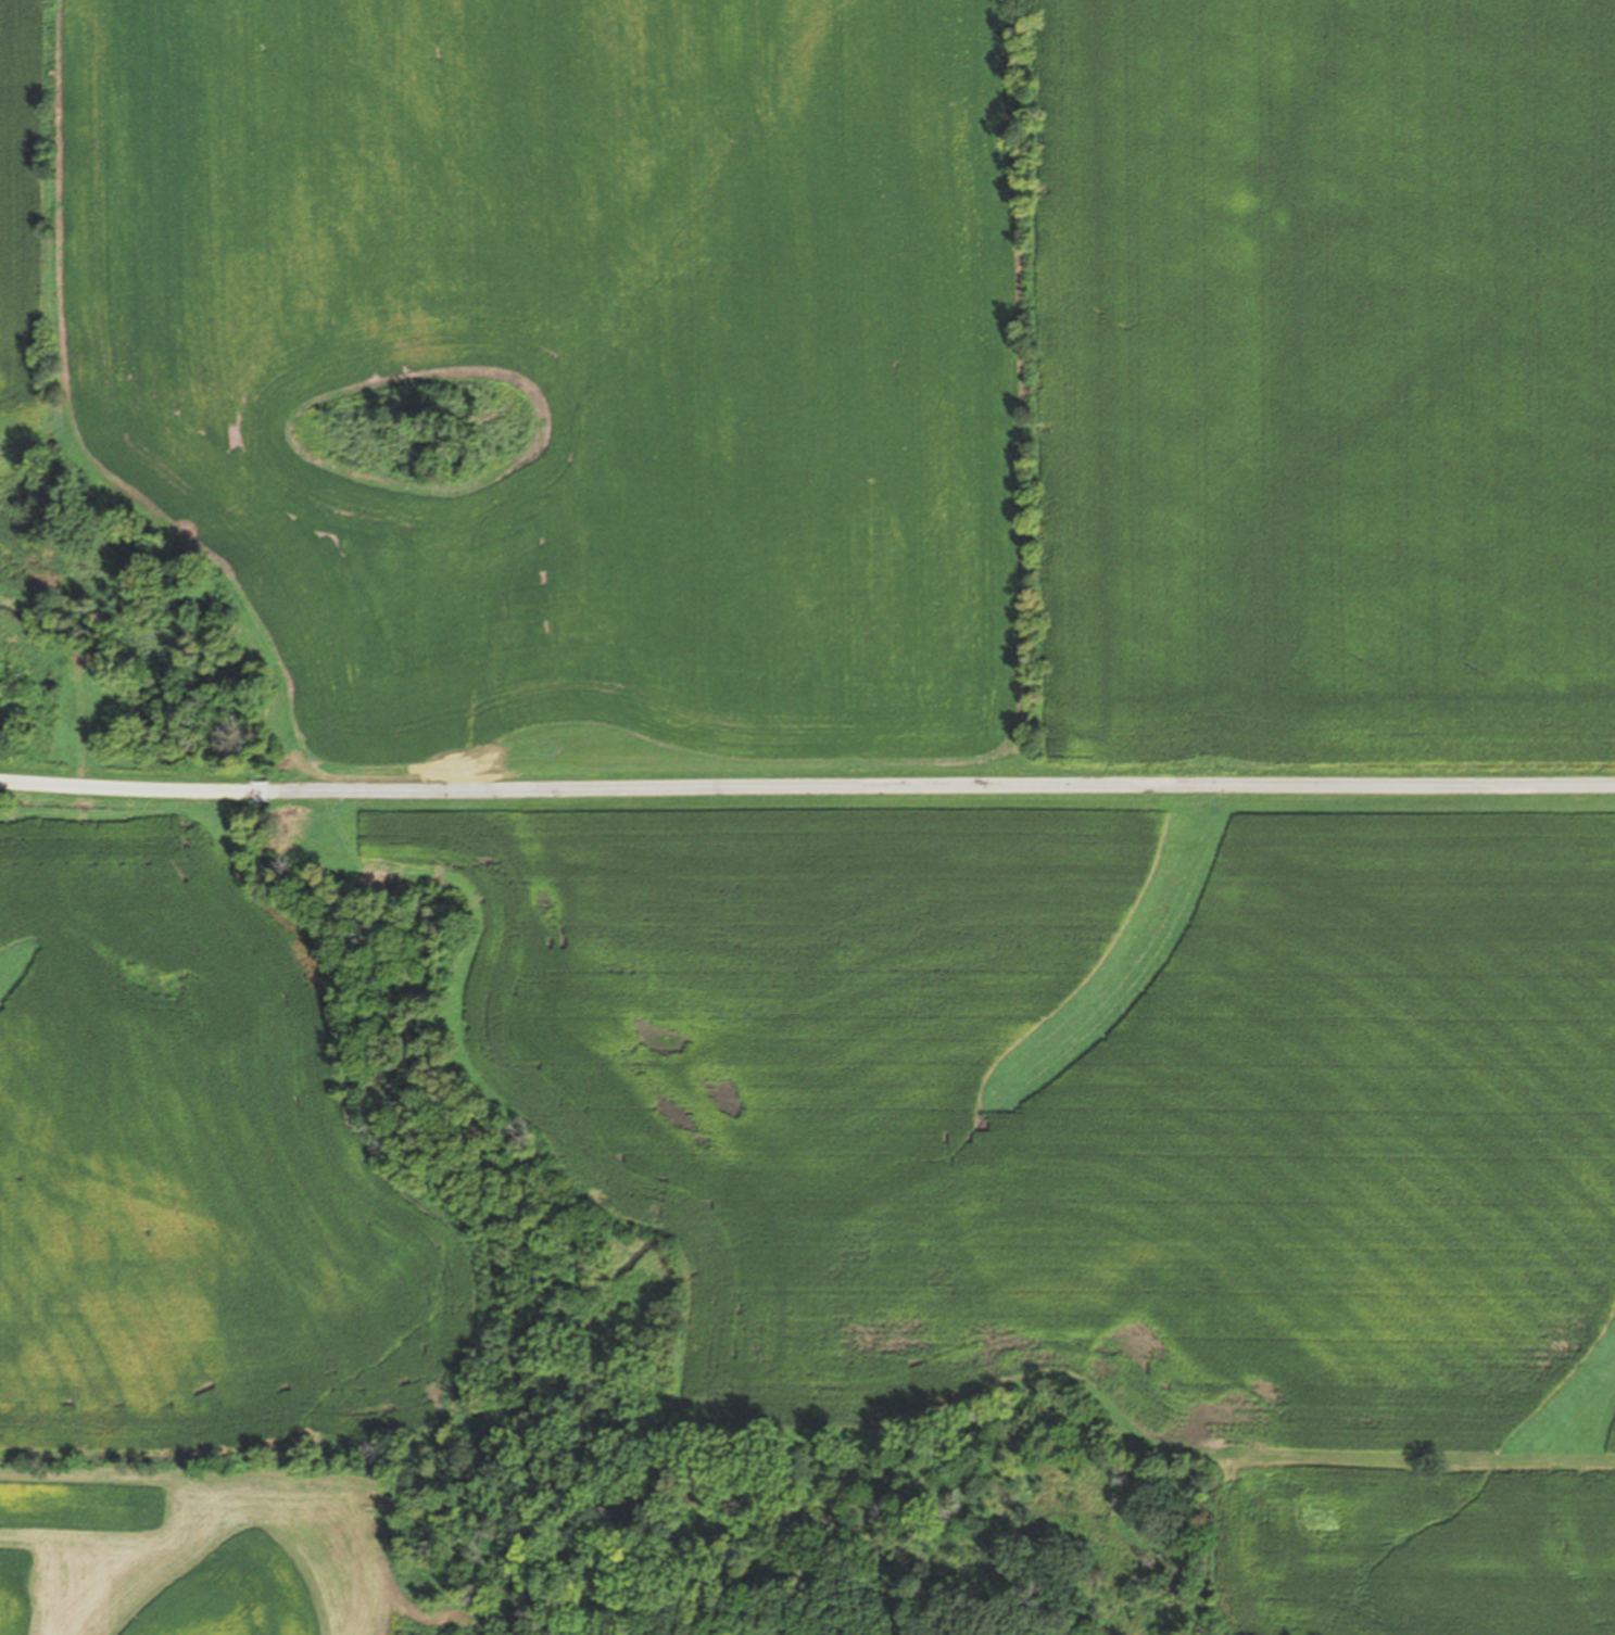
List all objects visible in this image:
road: (807, 791)
road: (263, 1452)

